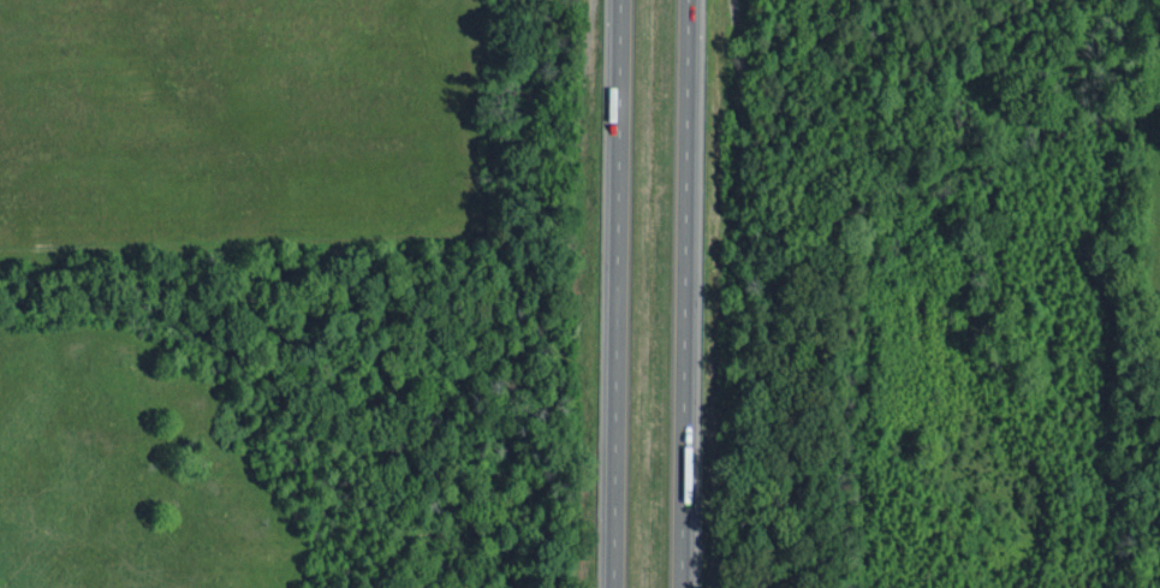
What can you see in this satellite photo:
road: (619, 293)
road: (683, 293)

